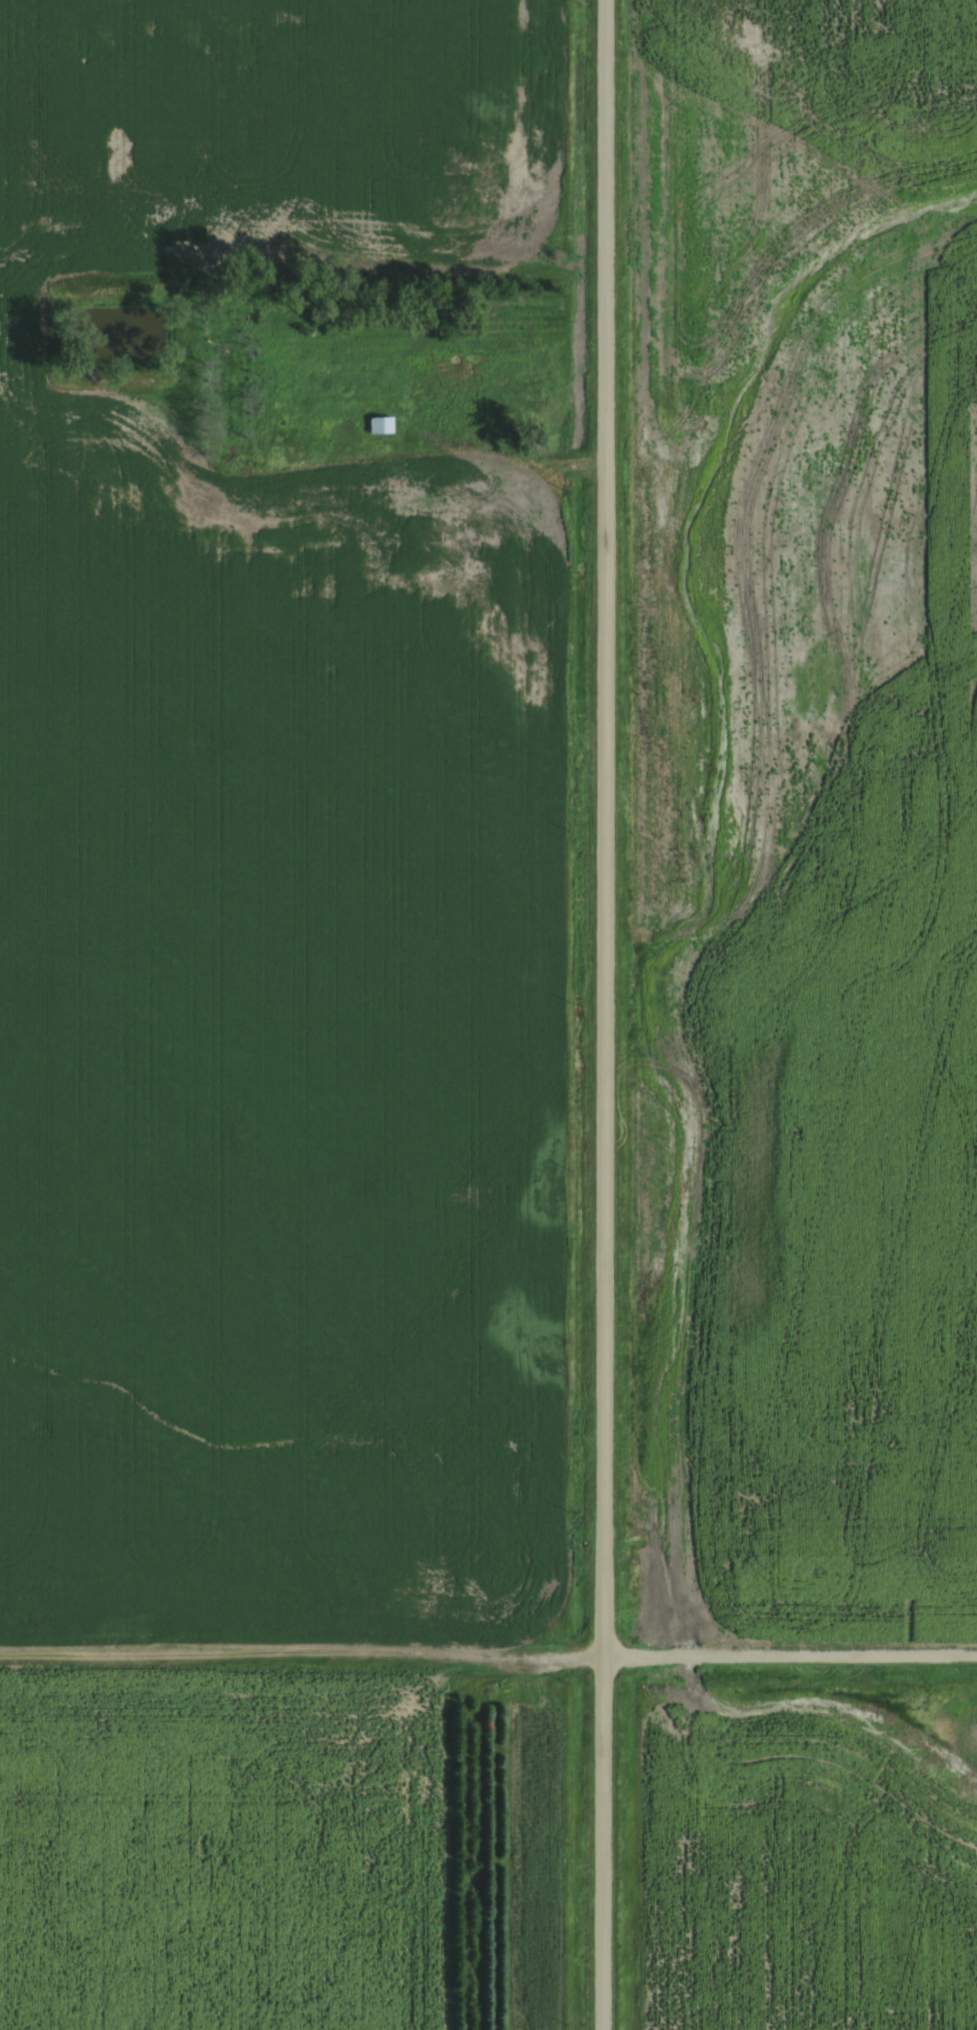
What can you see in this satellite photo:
building: (381, 426)
road: (604, 1014)
road: (790, 1662)
road: (301, 1663)

